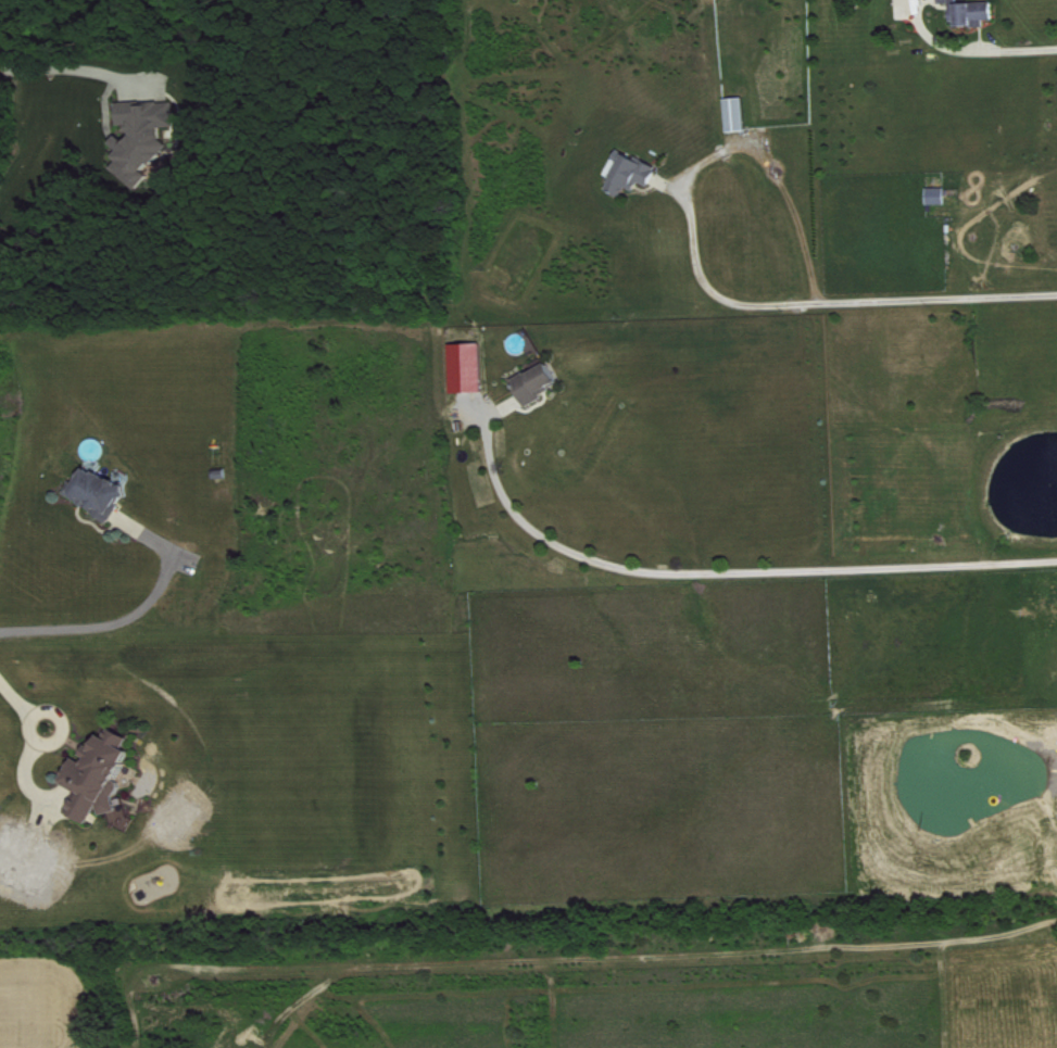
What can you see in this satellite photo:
building: (970, 11)
road: (969, 50)
road: (60, 70)
building: (935, 193)
road: (823, 302)
building: (543, 383)
building: (103, 493)
road: (718, 572)
road: (130, 623)
road: (33, 737)
building: (108, 780)
road: (649, 954)

